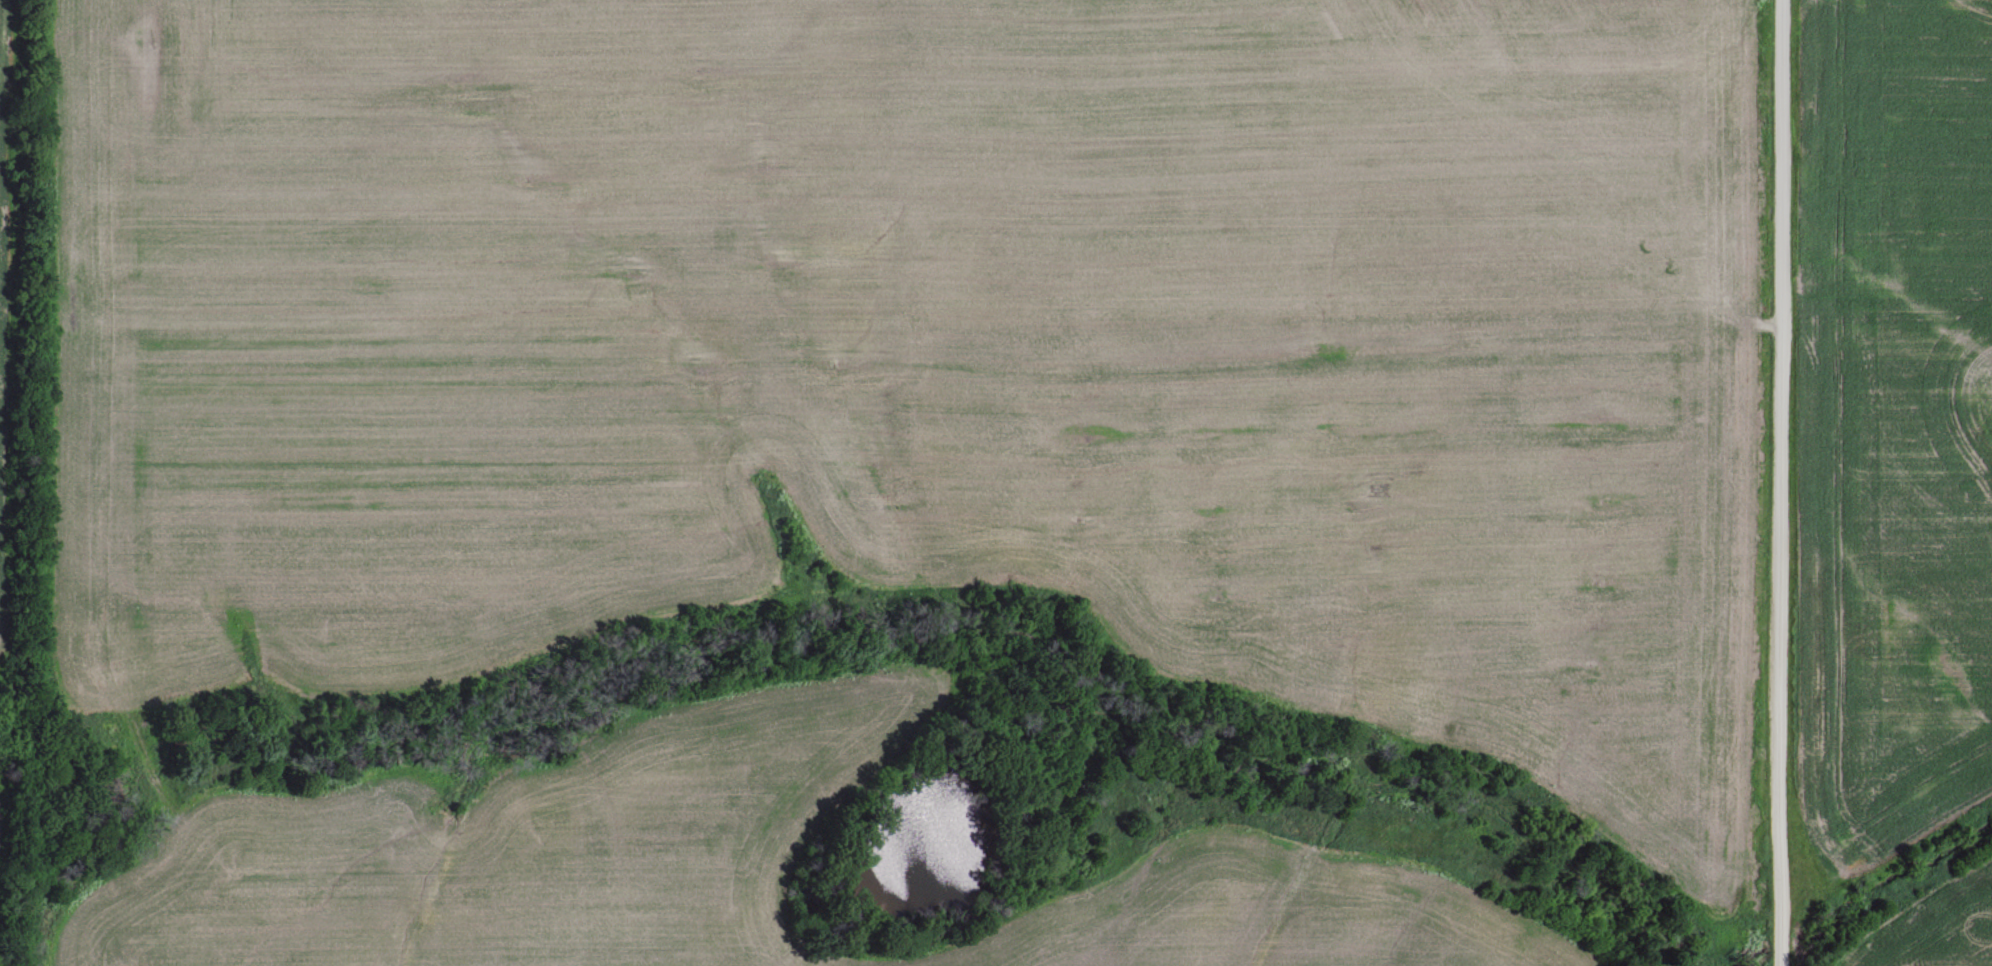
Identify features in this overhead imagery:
road: (1779, 483)

